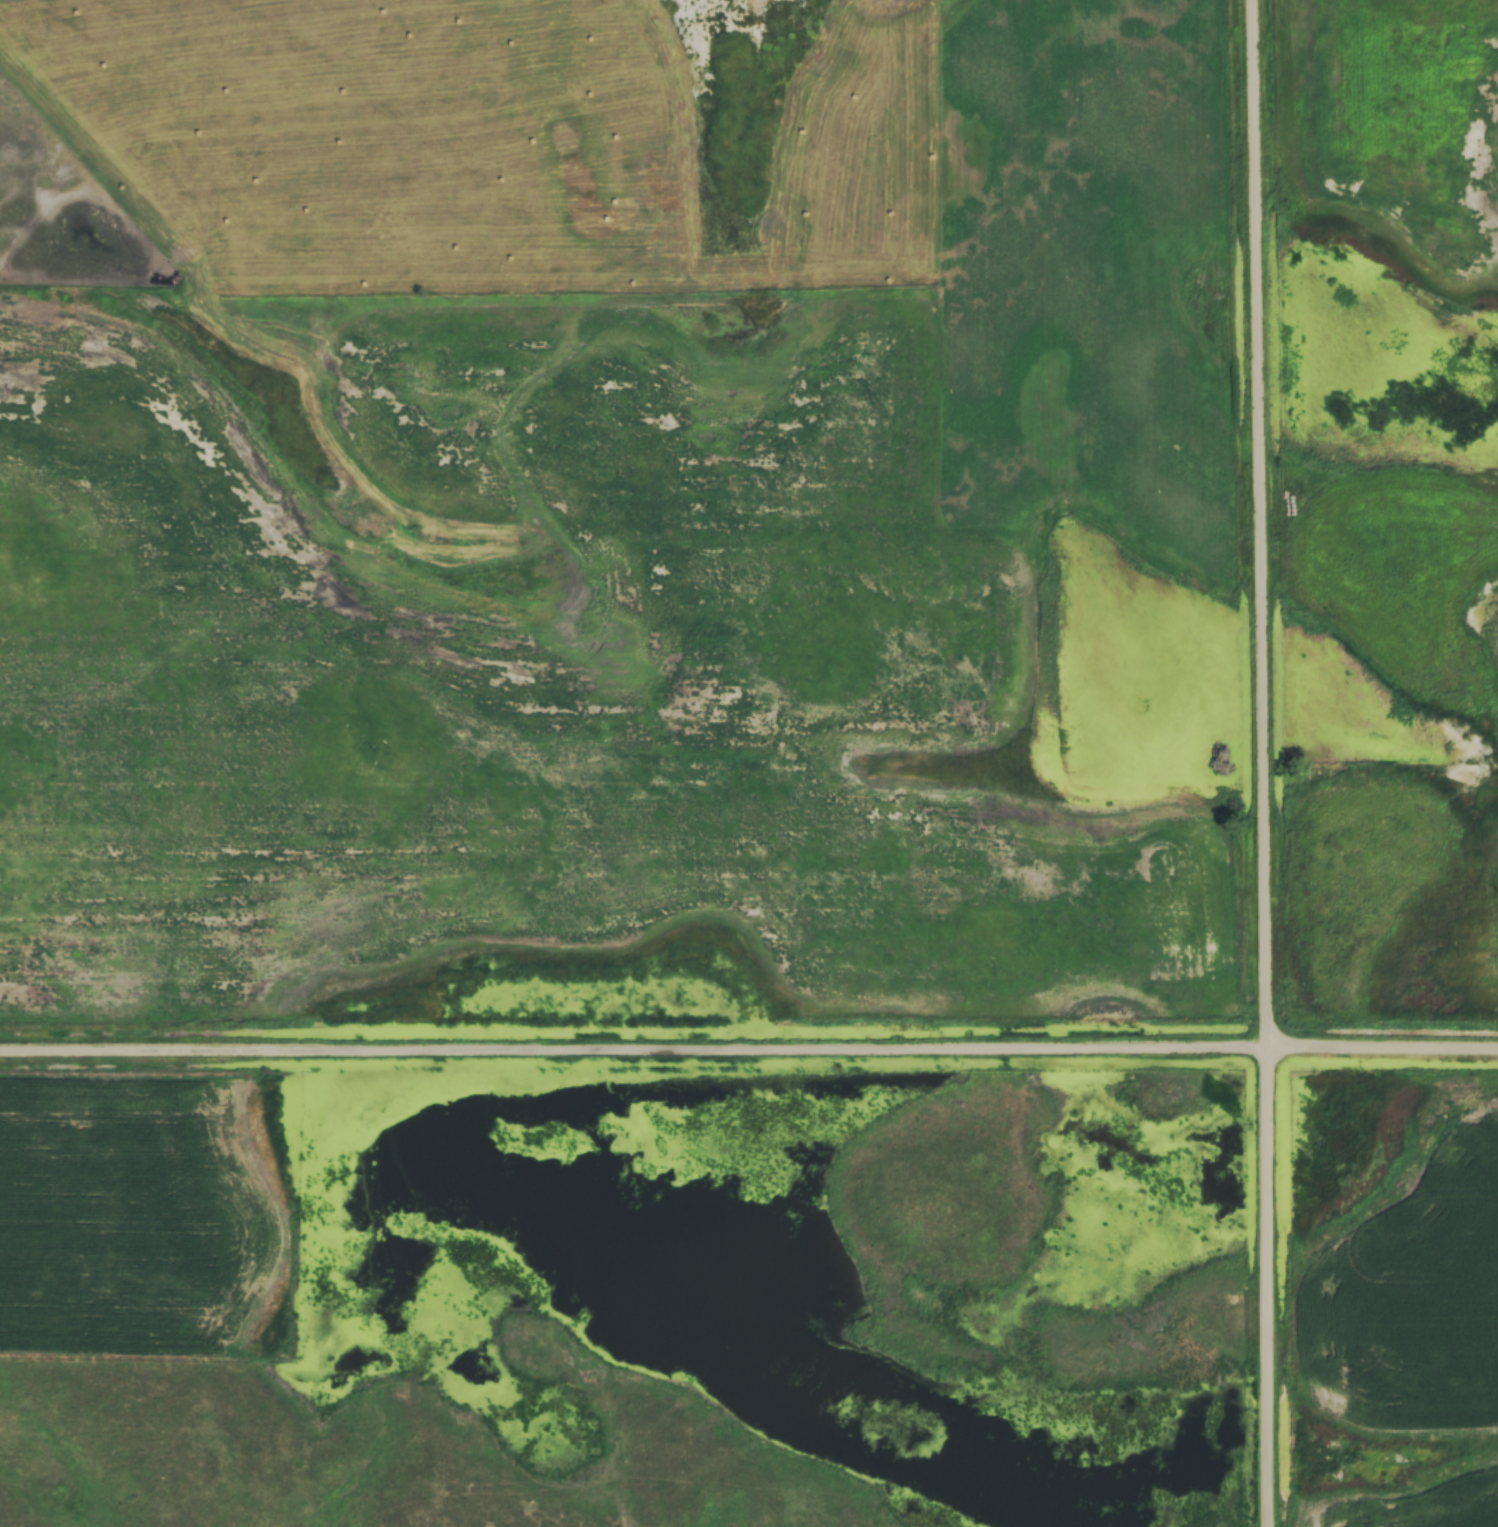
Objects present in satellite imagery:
road: (1263, 523)
road: (749, 1049)
road: (1269, 1287)

